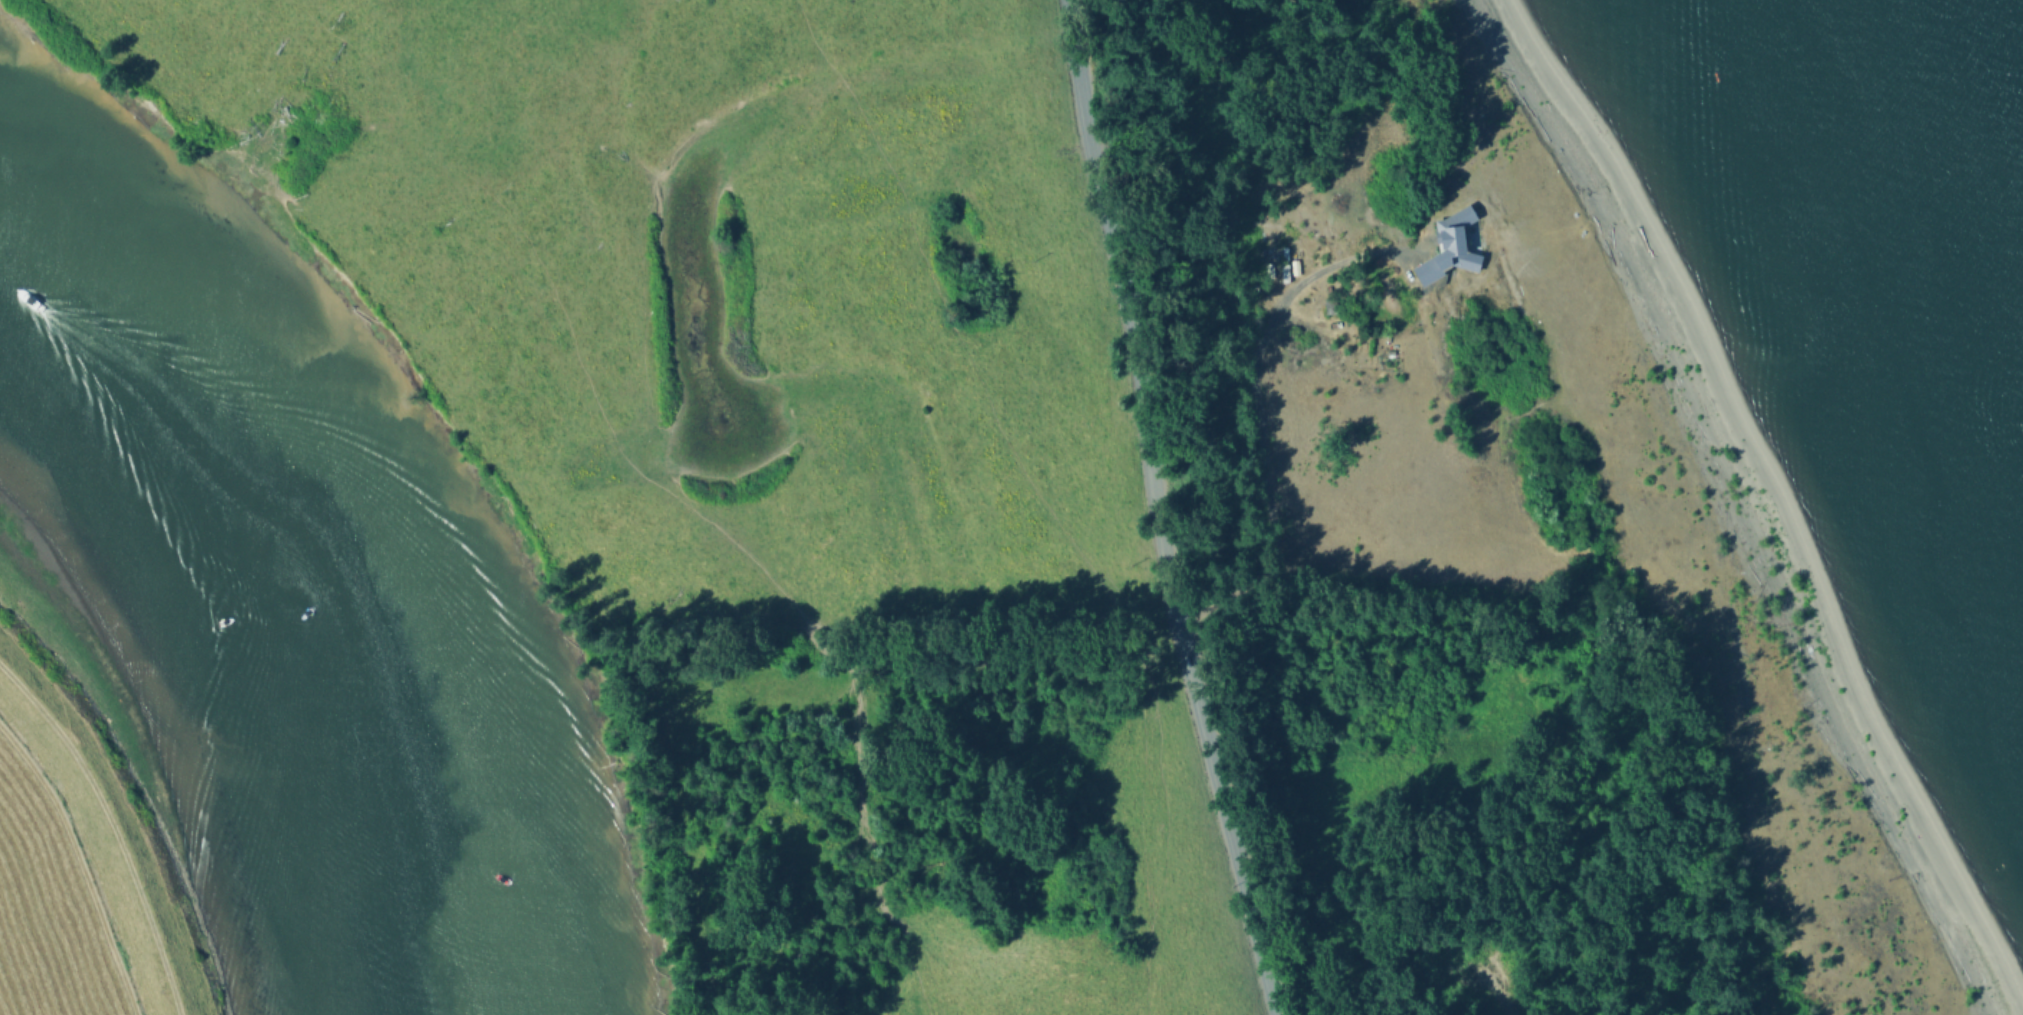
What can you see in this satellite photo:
building: (1459, 253)
road: (1091, 332)
road: (1256, 417)
road: (1155, 510)
river: (297, 591)
road: (116, 825)
crop: (53, 913)

